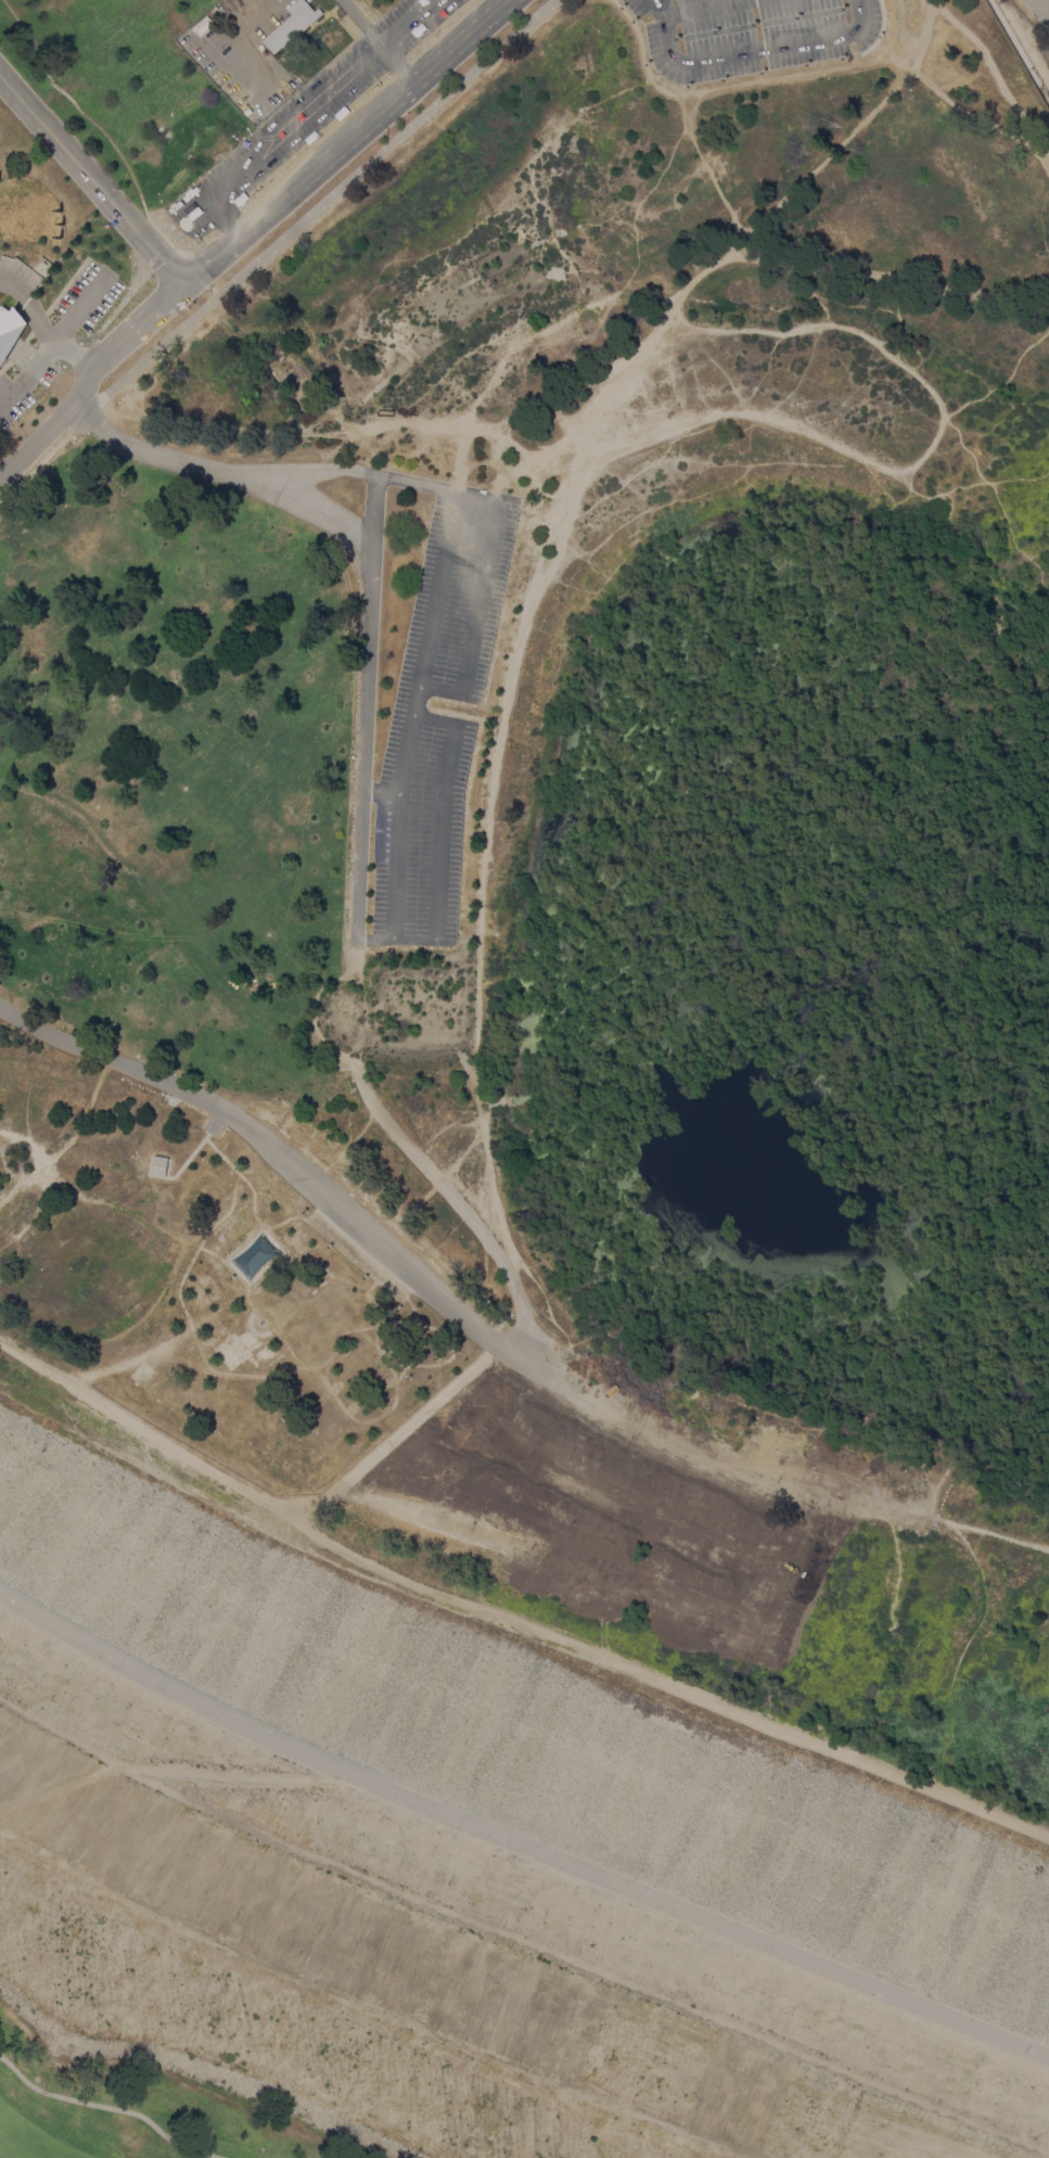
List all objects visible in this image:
parking lot: (685, 1)
road: (1047, 1)
park: (386, 3)
park: (380, 4)
parking lot: (243, 5)
parking lot: (634, 8)
road: (706, 8)
parking lot: (794, 8)
parking lot: (1040, 9)
parking lot: (392, 14)
park: (1036, 14)
parking lot: (716, 22)
building: (200, 23)
parking lot: (425, 23)
building: (291, 25)
parking lot: (869, 25)
parking lot: (803, 26)
parking lot: (212, 37)
road: (374, 39)
parking lot: (653, 40)
parking lot: (719, 40)
road: (750, 50)
parking lot: (807, 54)
road: (255, 58)
parking lot: (334, 65)
parking lot: (218, 78)
road: (994, 81)
park: (124, 88)
parking lot: (271, 102)
road: (304, 111)
road: (97, 126)
parking lot: (307, 127)
parking lot: (233, 155)
road: (91, 180)
road: (317, 204)
road: (321, 206)
road: (222, 213)
parking lot: (196, 226)
road: (234, 243)
parking lot: (18, 267)
parking lot: (88, 295)
road: (41, 325)
road: (135, 327)
building: (10, 330)
road: (55, 340)
parking lot: (10, 401)
road: (28, 446)
road: (155, 454)
road: (356, 471)
road: (372, 506)
road: (312, 508)
road: (478, 597)
road: (524, 618)
road: (412, 712)
parking lot: (437, 715)
parking lot: (358, 753)
road: (363, 754)
road: (380, 790)
road: (439, 831)
parking lot: (212, 1125)
road: (286, 1161)
building: (157, 1165)
building: (255, 1256)
dam: (543, 1565)
road: (508, 1620)
road: (234, 1776)
road: (516, 1841)
dam: (355, 1918)
park: (473, 1937)
road: (517, 1938)
park: (449, 1949)
road: (108, 2107)

